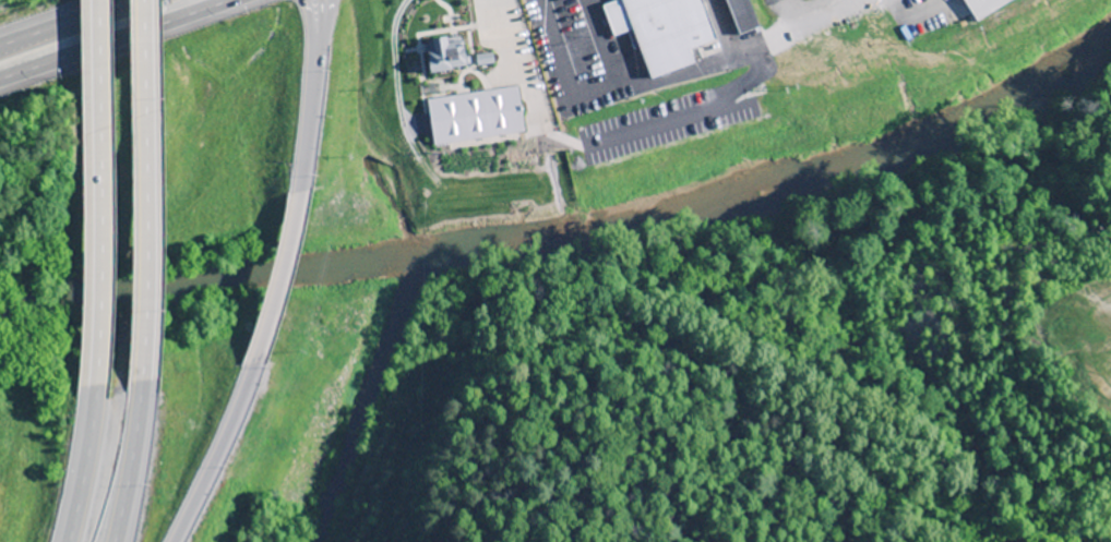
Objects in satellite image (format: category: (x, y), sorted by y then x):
building: (943, 1)
building: (981, 7)
road: (93, 29)
building: (442, 53)
road: (309, 89)
road: (141, 190)
road: (95, 194)
river: (571, 230)
road: (284, 270)
road: (219, 451)
road: (128, 461)
road: (79, 466)
building: (1109, 520)

